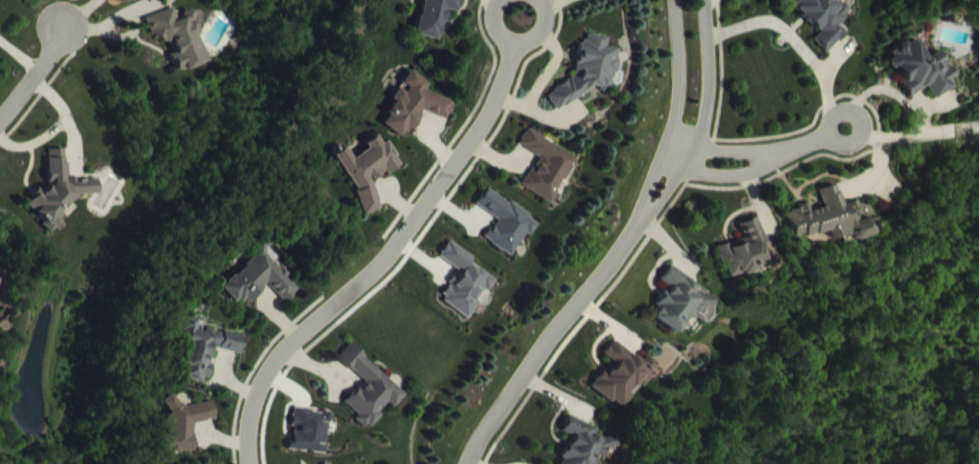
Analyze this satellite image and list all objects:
road: (110, 18)
building: (435, 24)
road: (496, 24)
building: (818, 28)
road: (541, 30)
road: (124, 32)
road: (788, 37)
building: (179, 50)
road: (19, 53)
road: (33, 74)
building: (920, 82)
building: (590, 84)
road: (676, 113)
building: (415, 118)
road: (703, 119)
road: (859, 134)
road: (729, 148)
road: (727, 173)
building: (548, 179)
building: (369, 183)
building: (58, 205)
building: (828, 230)
building: (507, 235)
road: (382, 260)
building: (742, 263)
building: (260, 291)
building: (0, 294)
building: (464, 294)
building: (680, 315)
road: (555, 341)
building: (203, 362)
building: (620, 387)
building: (369, 401)
building: (185, 437)
building: (310, 443)
building: (584, 450)

